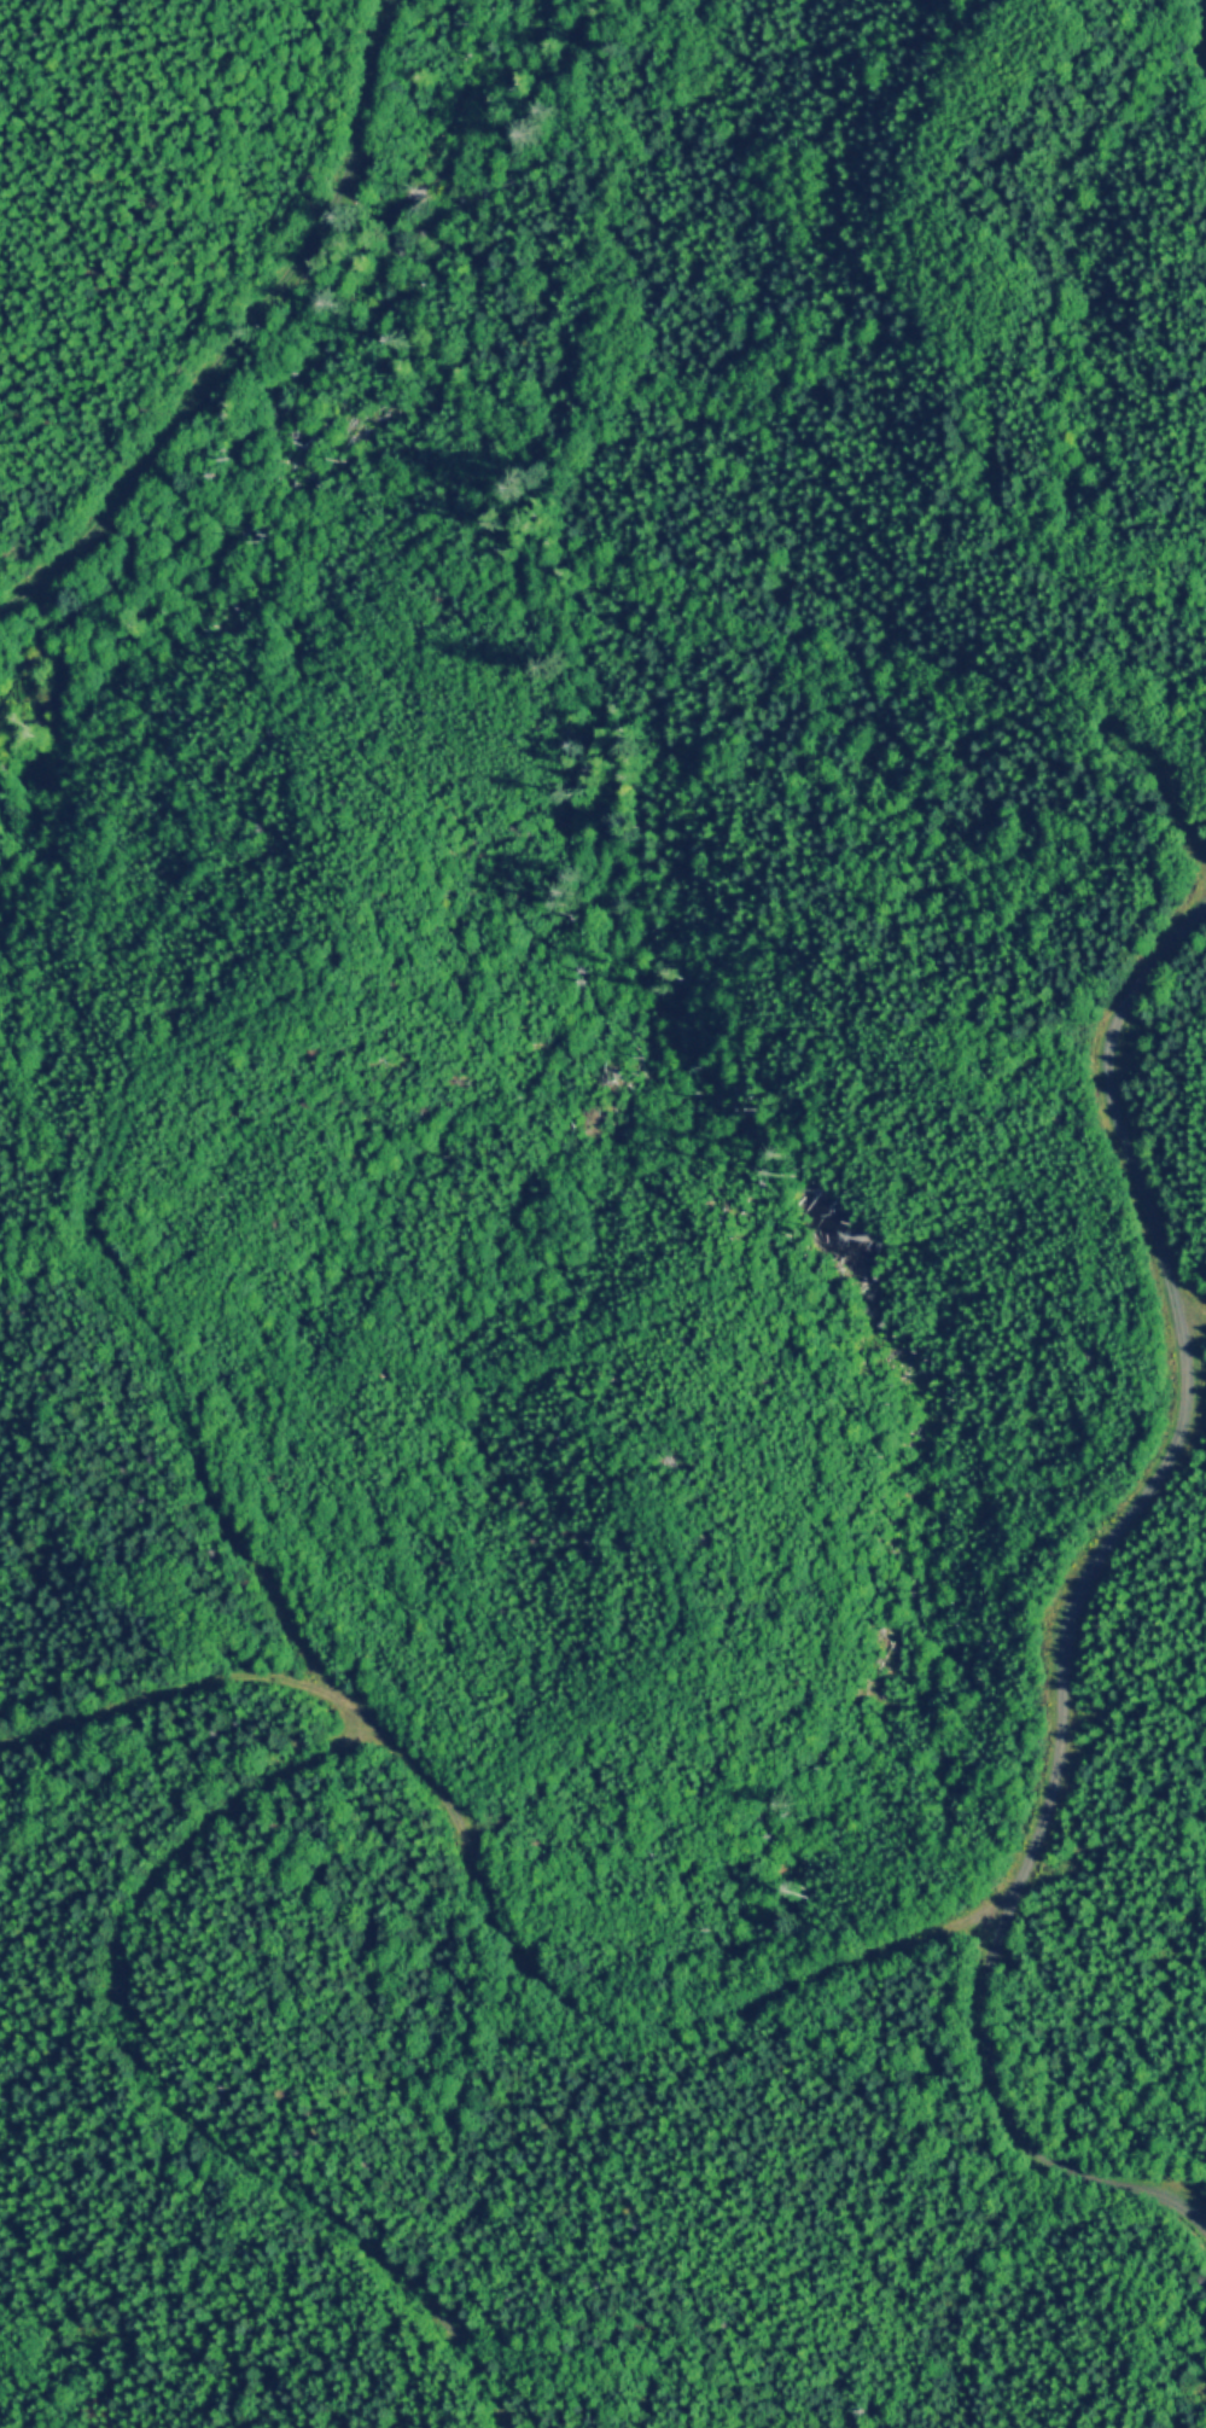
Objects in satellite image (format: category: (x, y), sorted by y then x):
road: (222, 287)
road: (1085, 1590)

